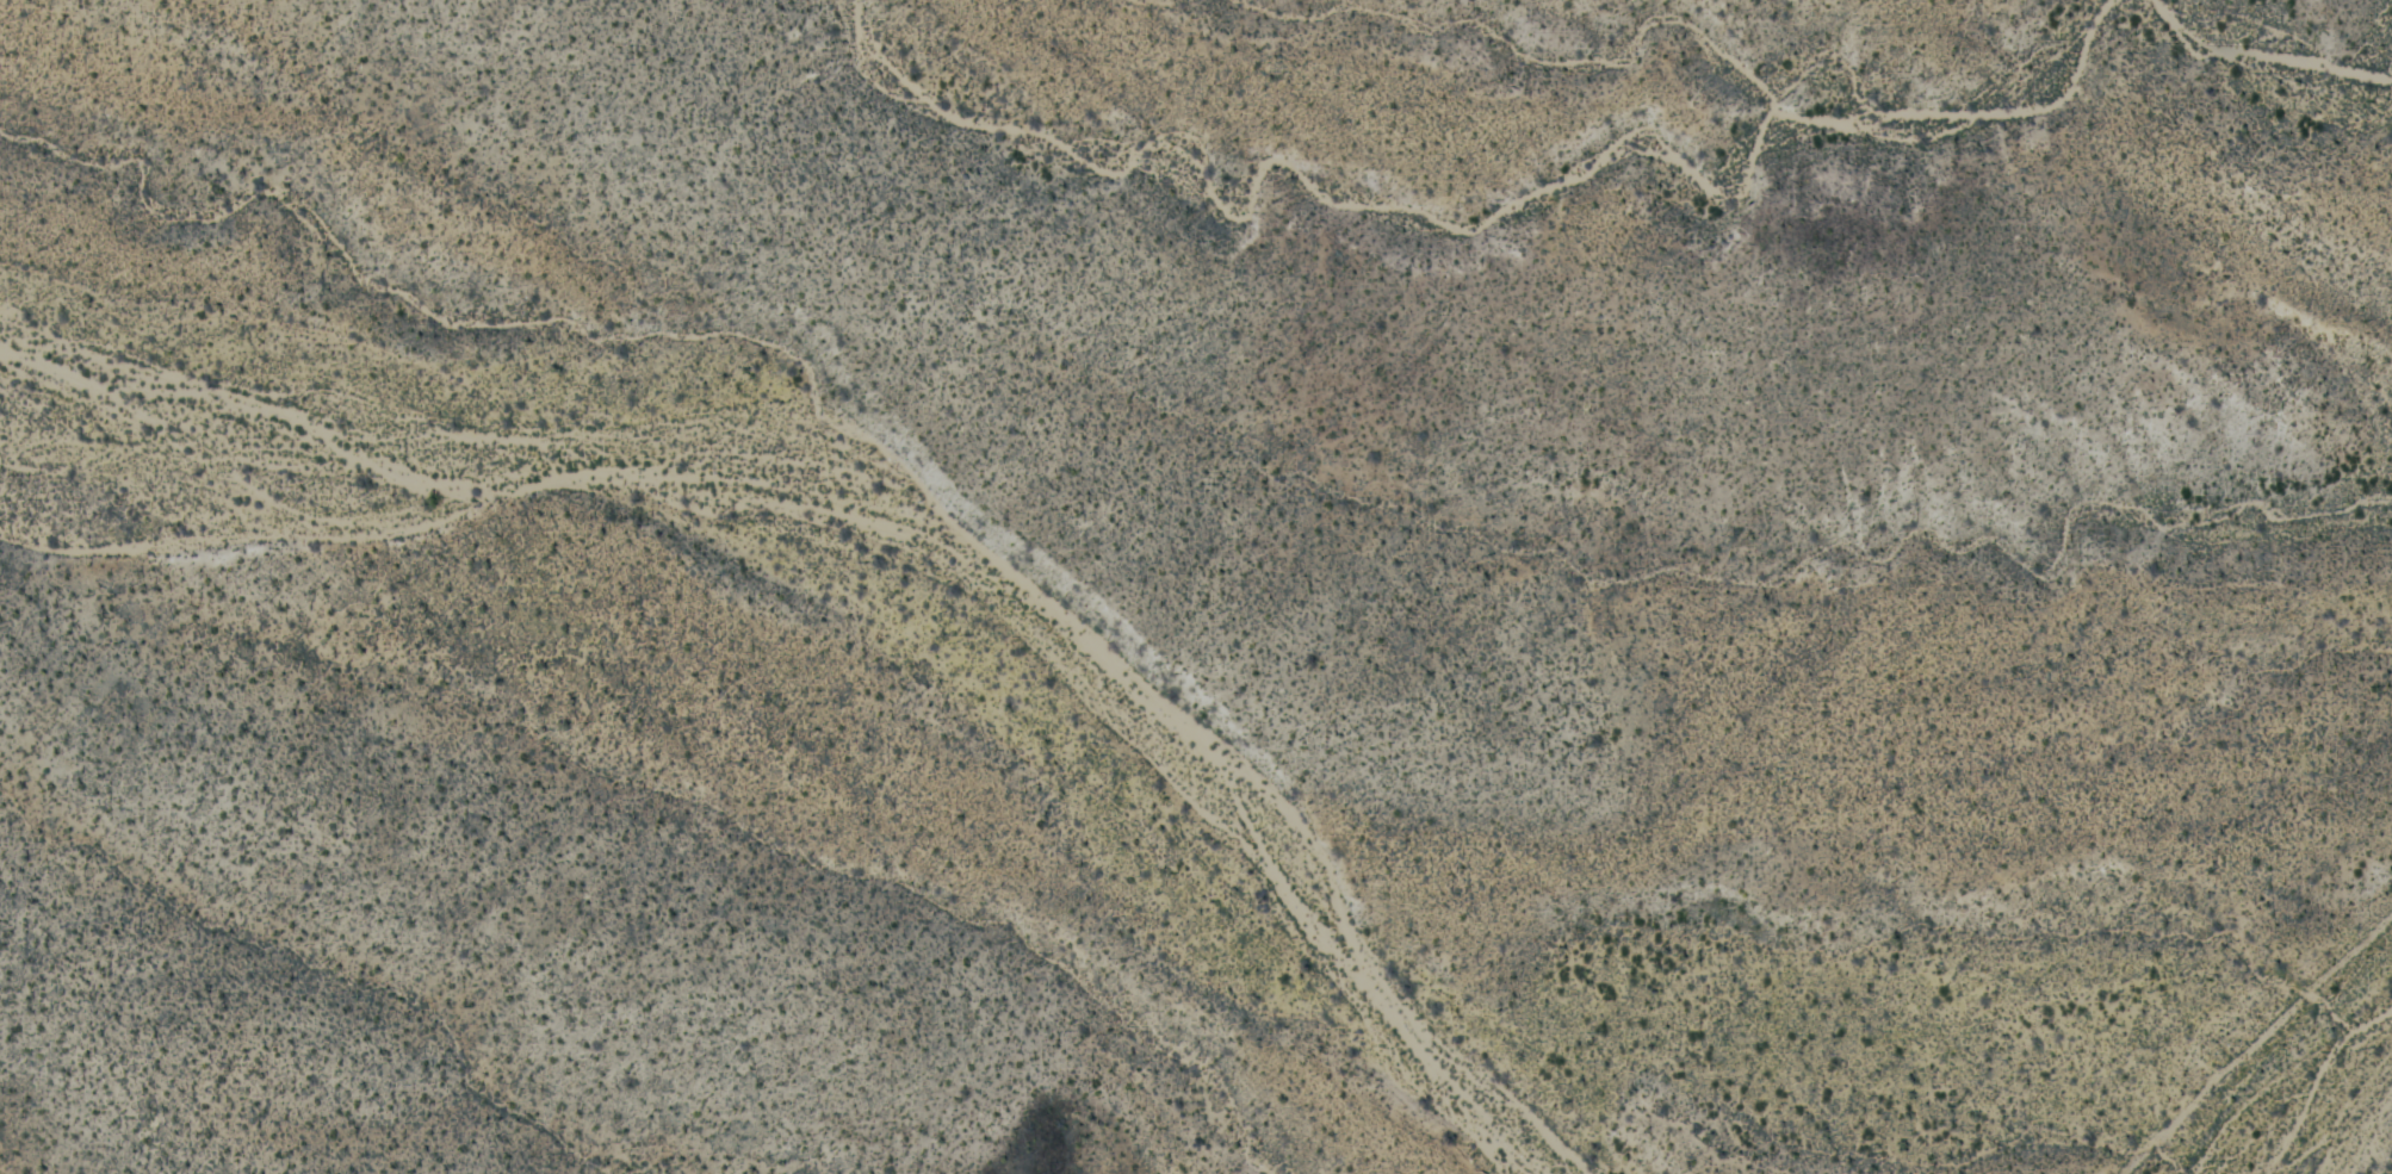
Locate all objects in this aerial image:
road: (2270, 1071)

